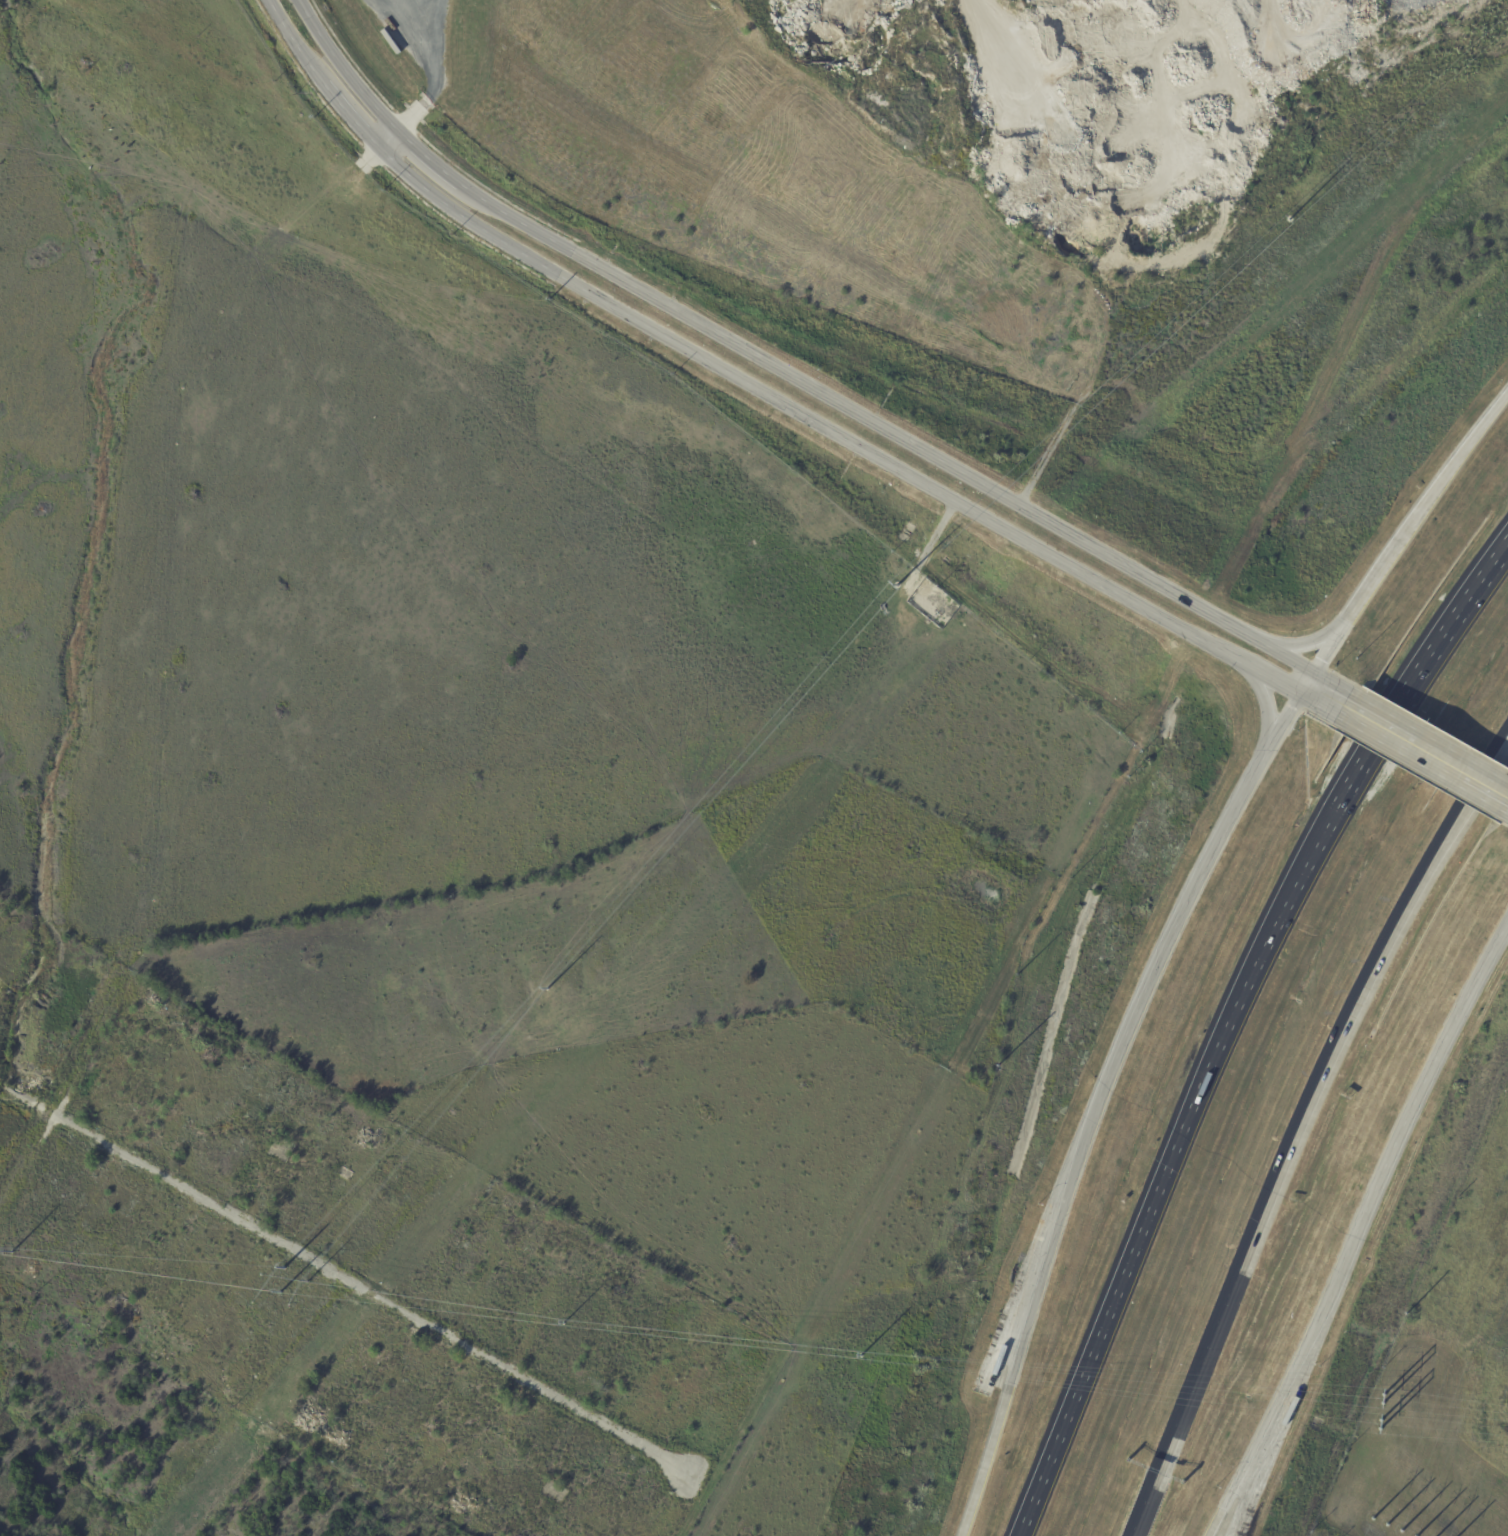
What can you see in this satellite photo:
road: (293, 40)
road: (427, 66)
road: (343, 67)
road: (349, 113)
road: (387, 137)
road: (426, 157)
power tower: (1292, 213)
road: (799, 413)
road: (886, 429)
road: (1449, 471)
power tower: (893, 584)
road: (1374, 584)
road: (1304, 643)
road: (1330, 648)
road: (1268, 676)
road: (1307, 684)
road: (1332, 684)
road: (1267, 704)
road: (1320, 704)
road: (1429, 741)
road: (1424, 762)
power tower: (548, 989)
road: (1230, 1024)
road: (64, 1081)
road: (1418, 1099)
road: (1114, 1107)
road: (1299, 1135)
power tower: (11, 1255)
power tower: (283, 1267)
parking lot: (1028, 1271)
road: (346, 1278)
power tower: (306, 1281)
power tower: (279, 1292)
power tower: (563, 1321)
power tower: (863, 1357)
road: (1275, 1408)
power tower: (1405, 1535)

